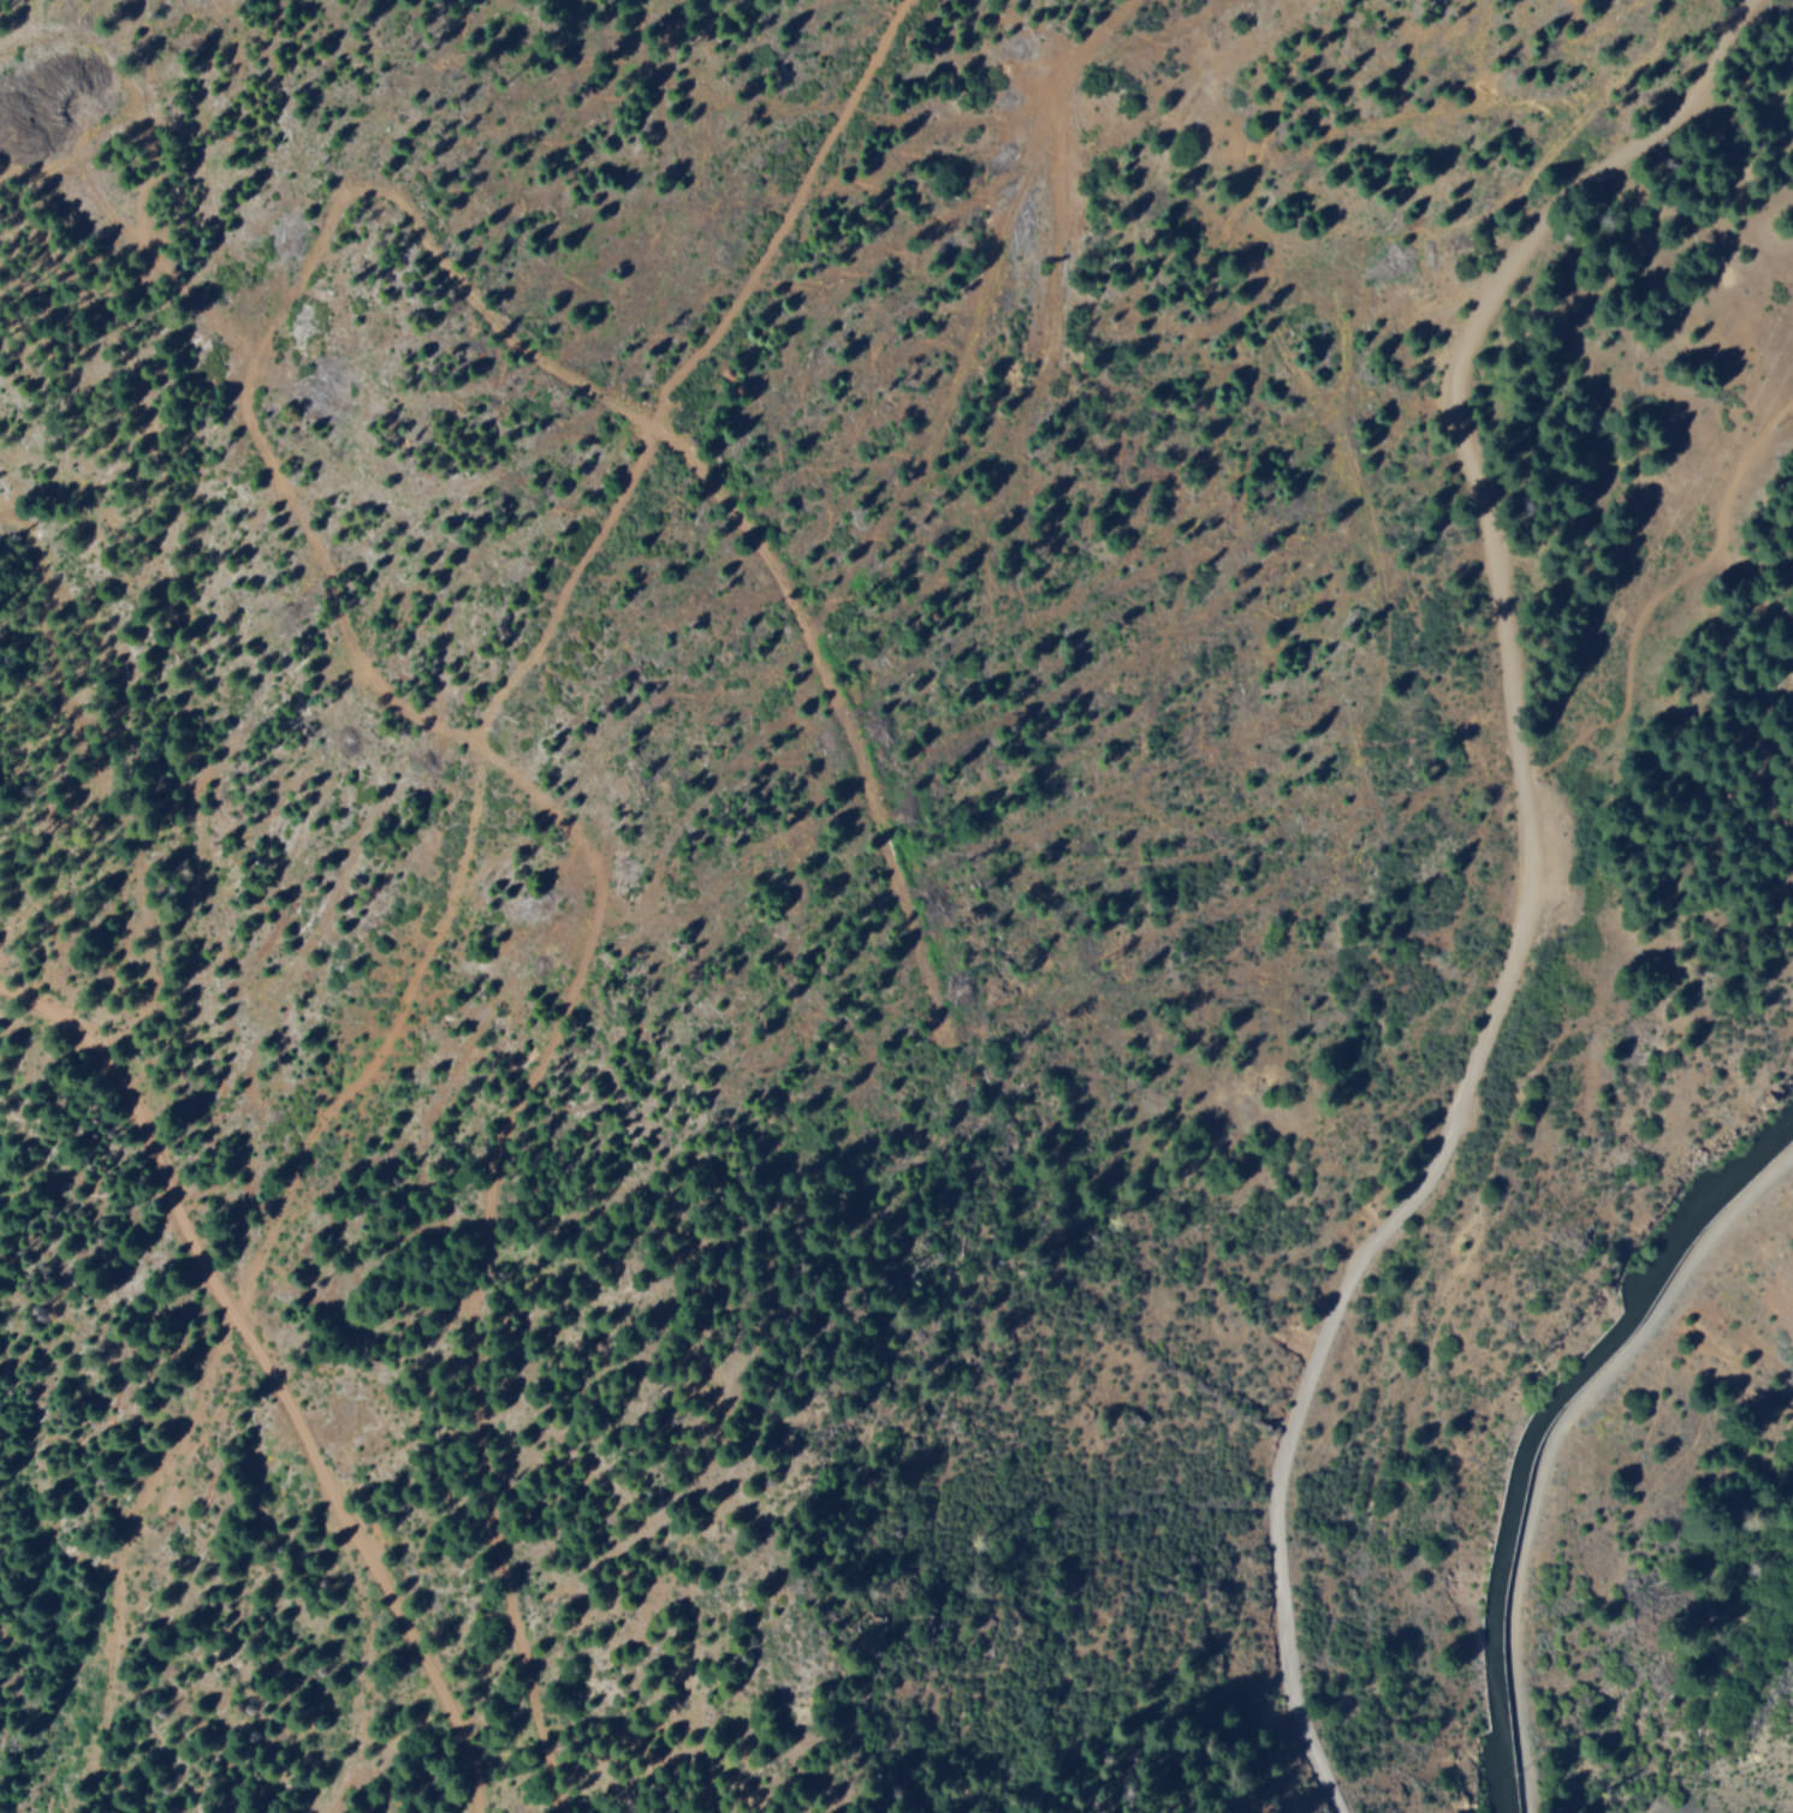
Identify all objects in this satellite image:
road: (1532, 880)
road: (1549, 1440)

